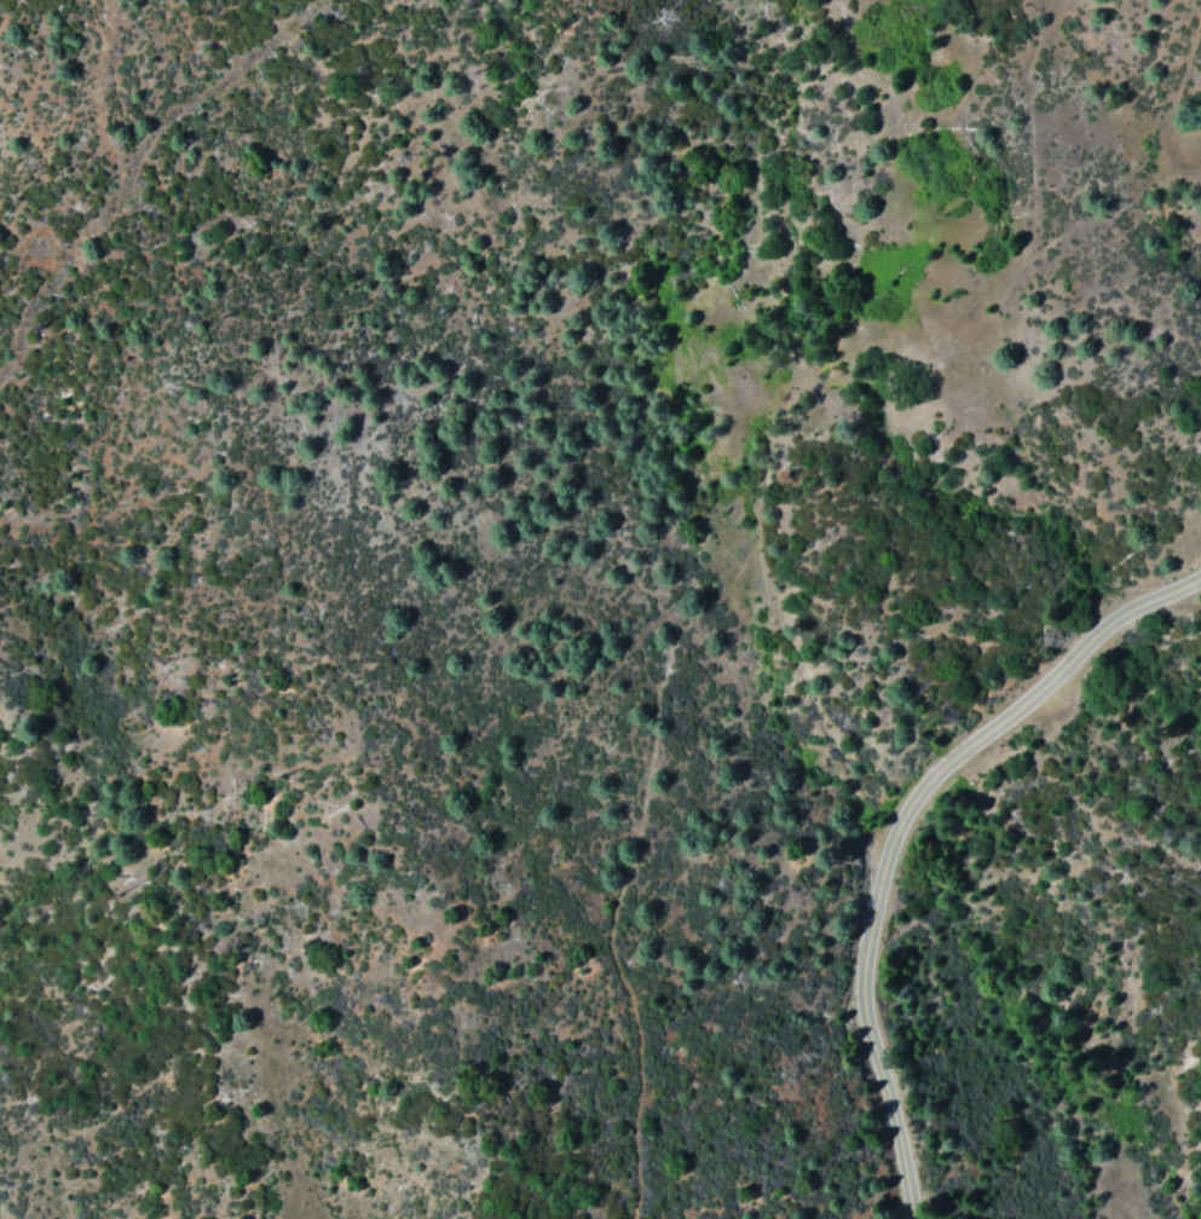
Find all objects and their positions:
road: (900, 830)

